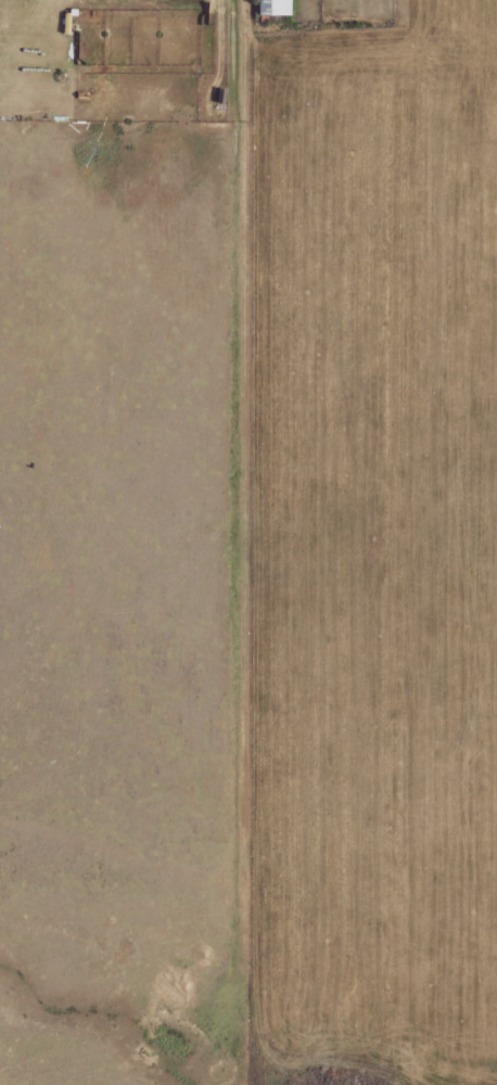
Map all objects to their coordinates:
building: (277, 8)

